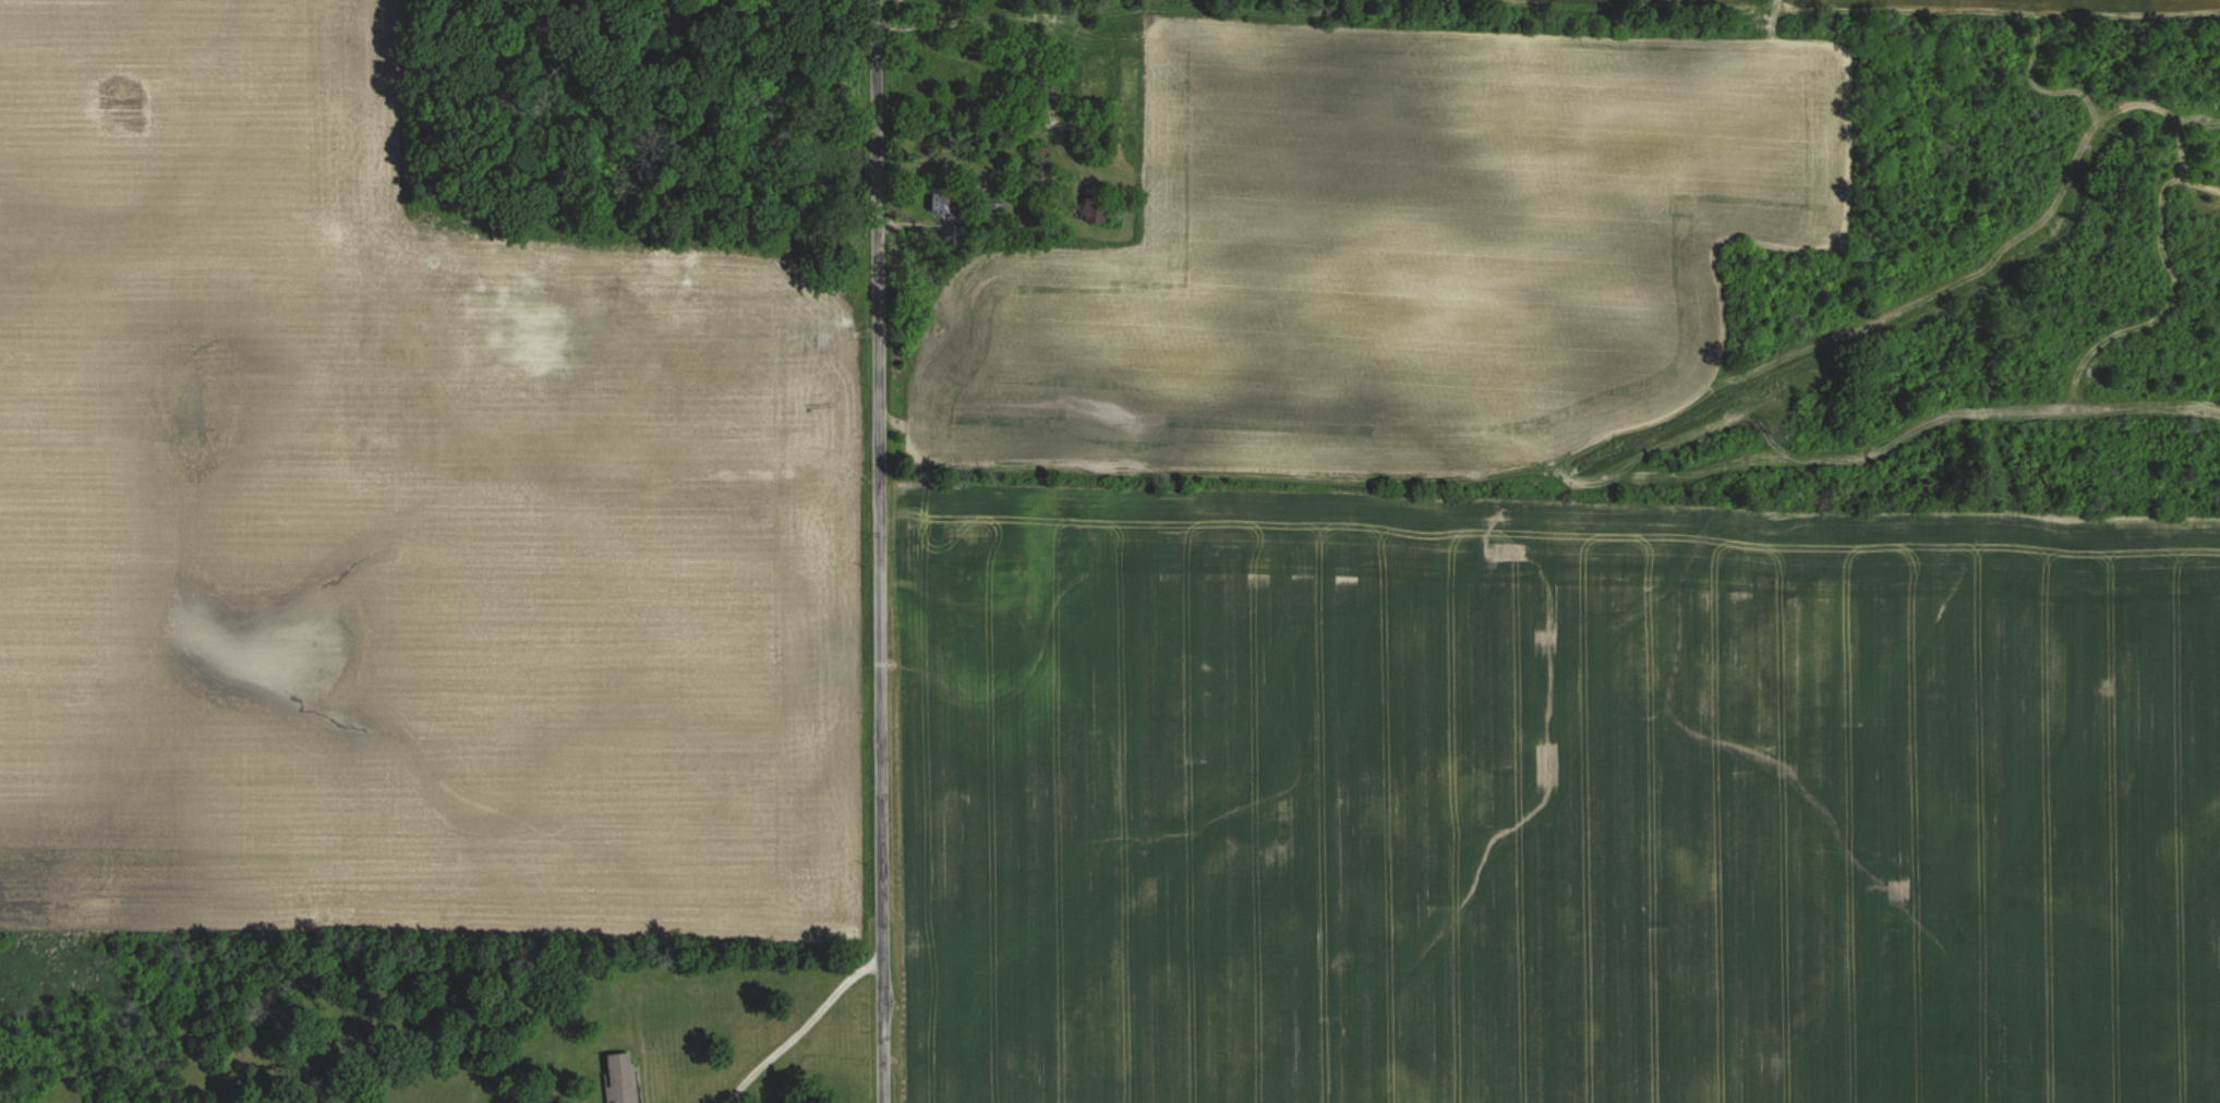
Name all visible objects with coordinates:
building: (941, 199)
building: (1093, 208)
building: (997, 209)
building: (557, 263)
building: (611, 293)
building: (749, 307)
road: (873, 551)
road: (794, 1030)
building: (620, 1079)

